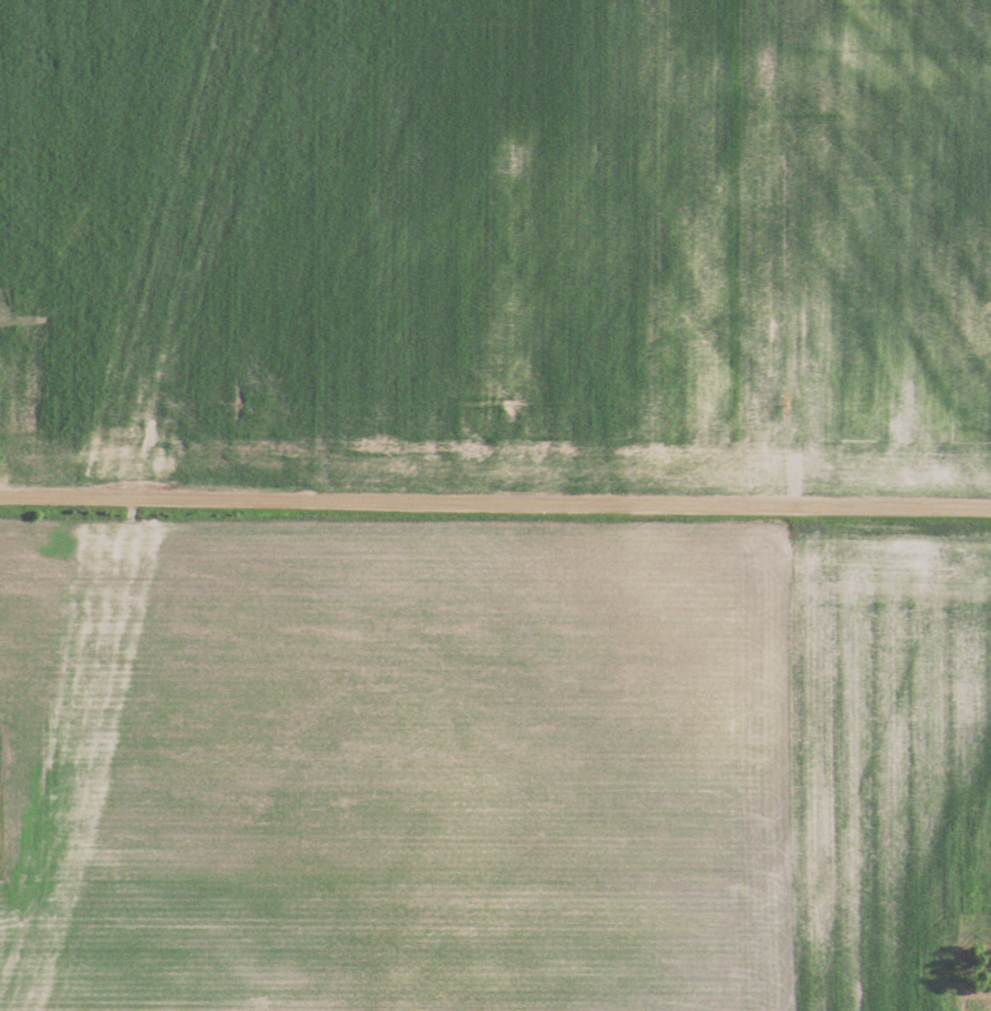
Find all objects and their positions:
road: (495, 503)

